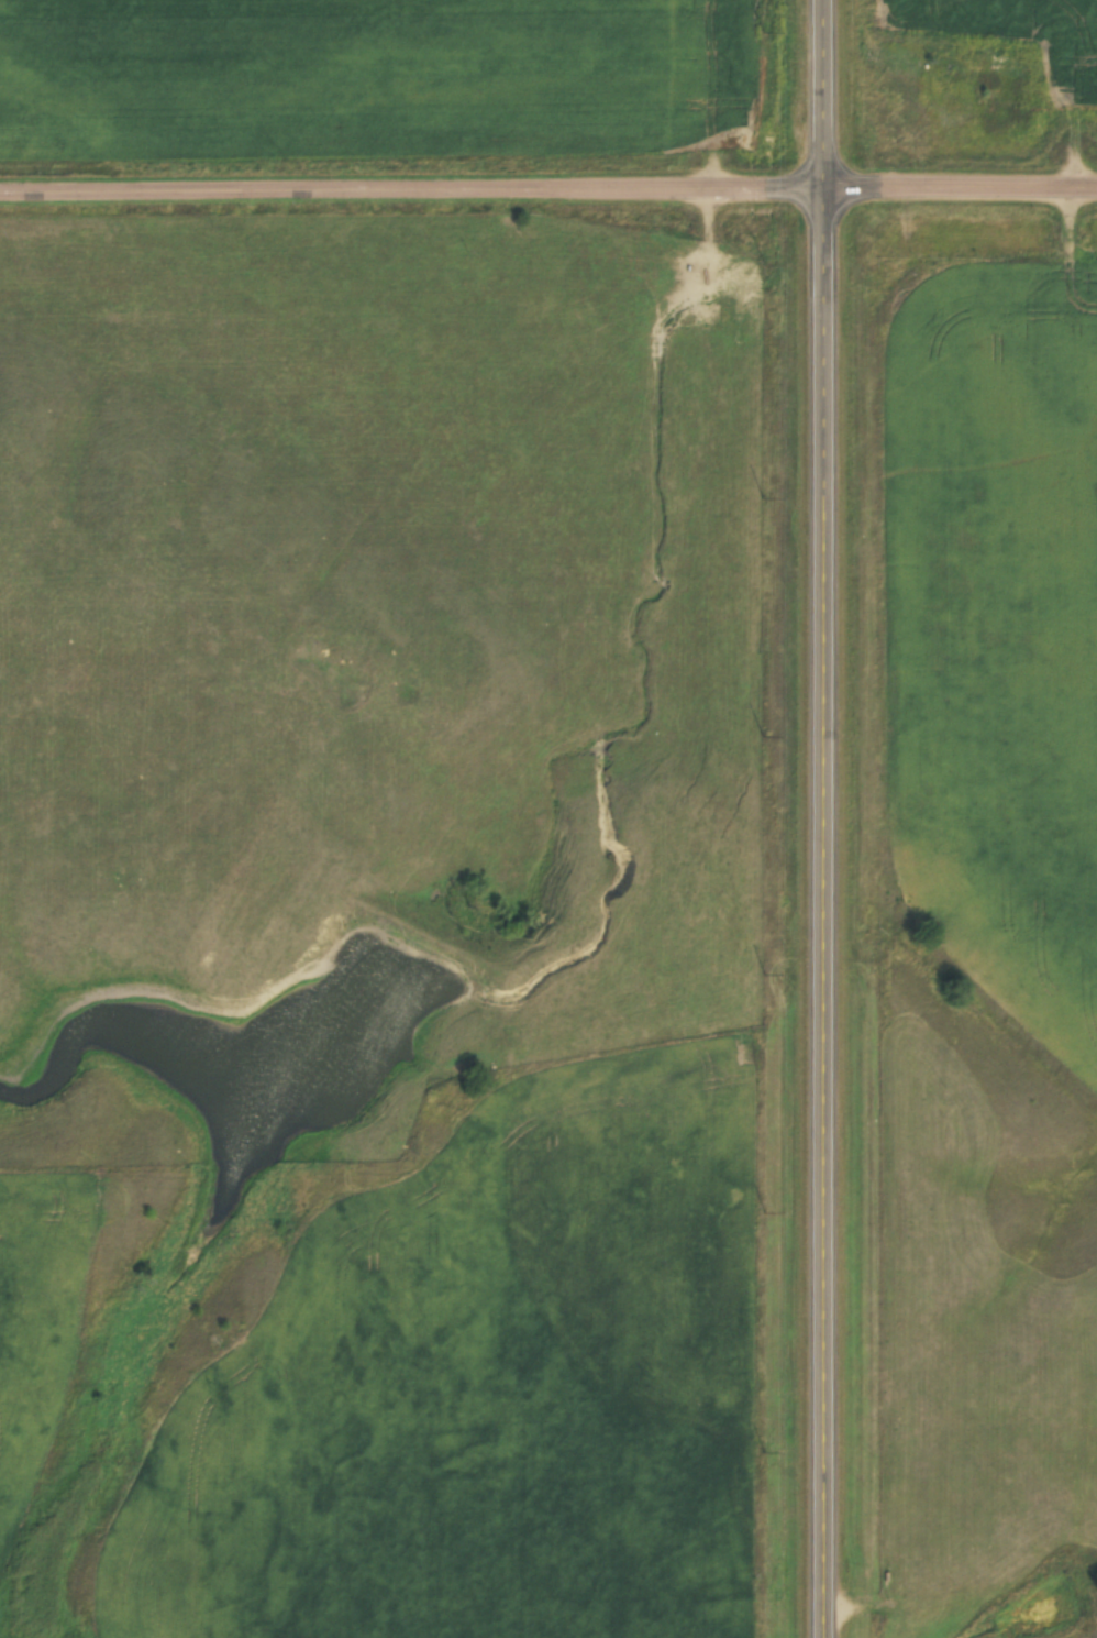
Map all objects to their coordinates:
road: (547, 189)
road: (824, 818)

